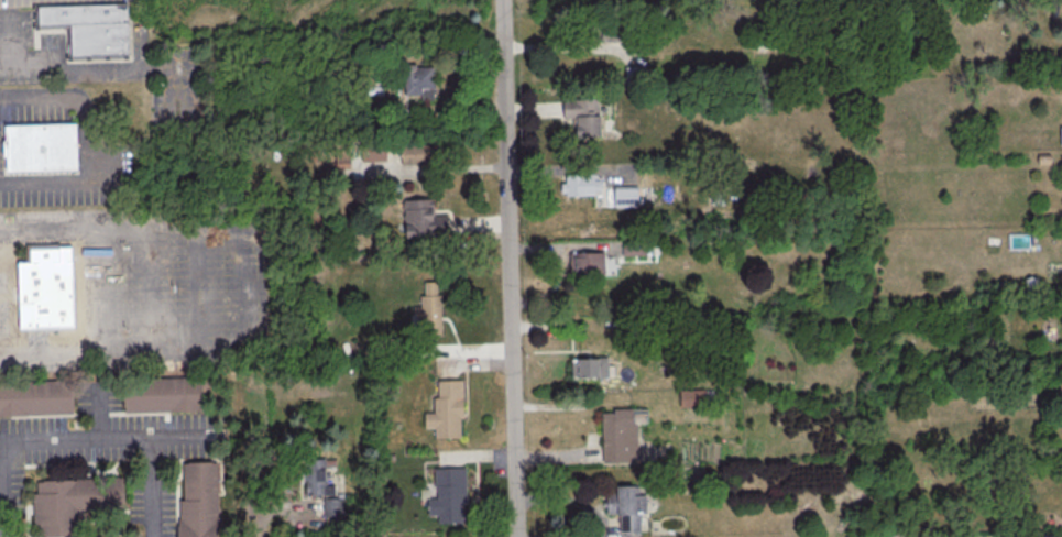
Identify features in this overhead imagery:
building: (92, 29)
building: (607, 33)
road: (87, 66)
building: (418, 80)
building: (580, 117)
building: (1061, 132)
road: (85, 141)
building: (39, 149)
building: (375, 152)
building: (414, 153)
building: (342, 158)
building: (580, 183)
building: (626, 196)
building: (423, 219)
building: (590, 220)
building: (633, 246)
building: (585, 262)
road: (506, 267)
road: (241, 285)
building: (43, 291)
building: (427, 314)
building: (592, 366)
building: (163, 394)
building: (39, 397)
building: (445, 409)
building: (617, 436)
road: (78, 437)
building: (315, 478)
building: (447, 494)
building: (198, 500)
building: (70, 502)
building: (626, 506)
building: (332, 507)

